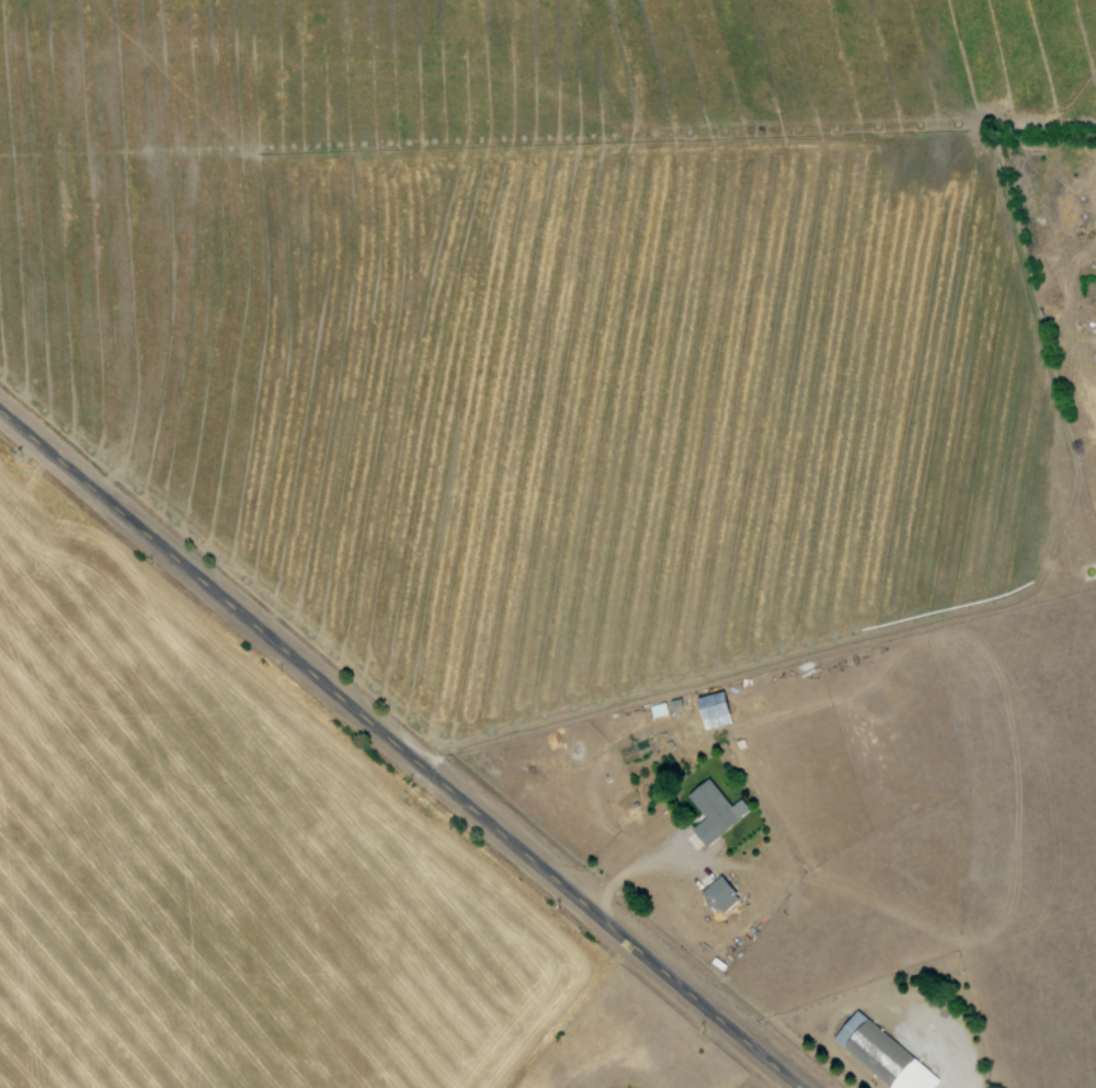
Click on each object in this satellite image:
road: (1063, 295)
road: (396, 754)
building: (711, 810)
building: (717, 894)
building: (879, 1054)

